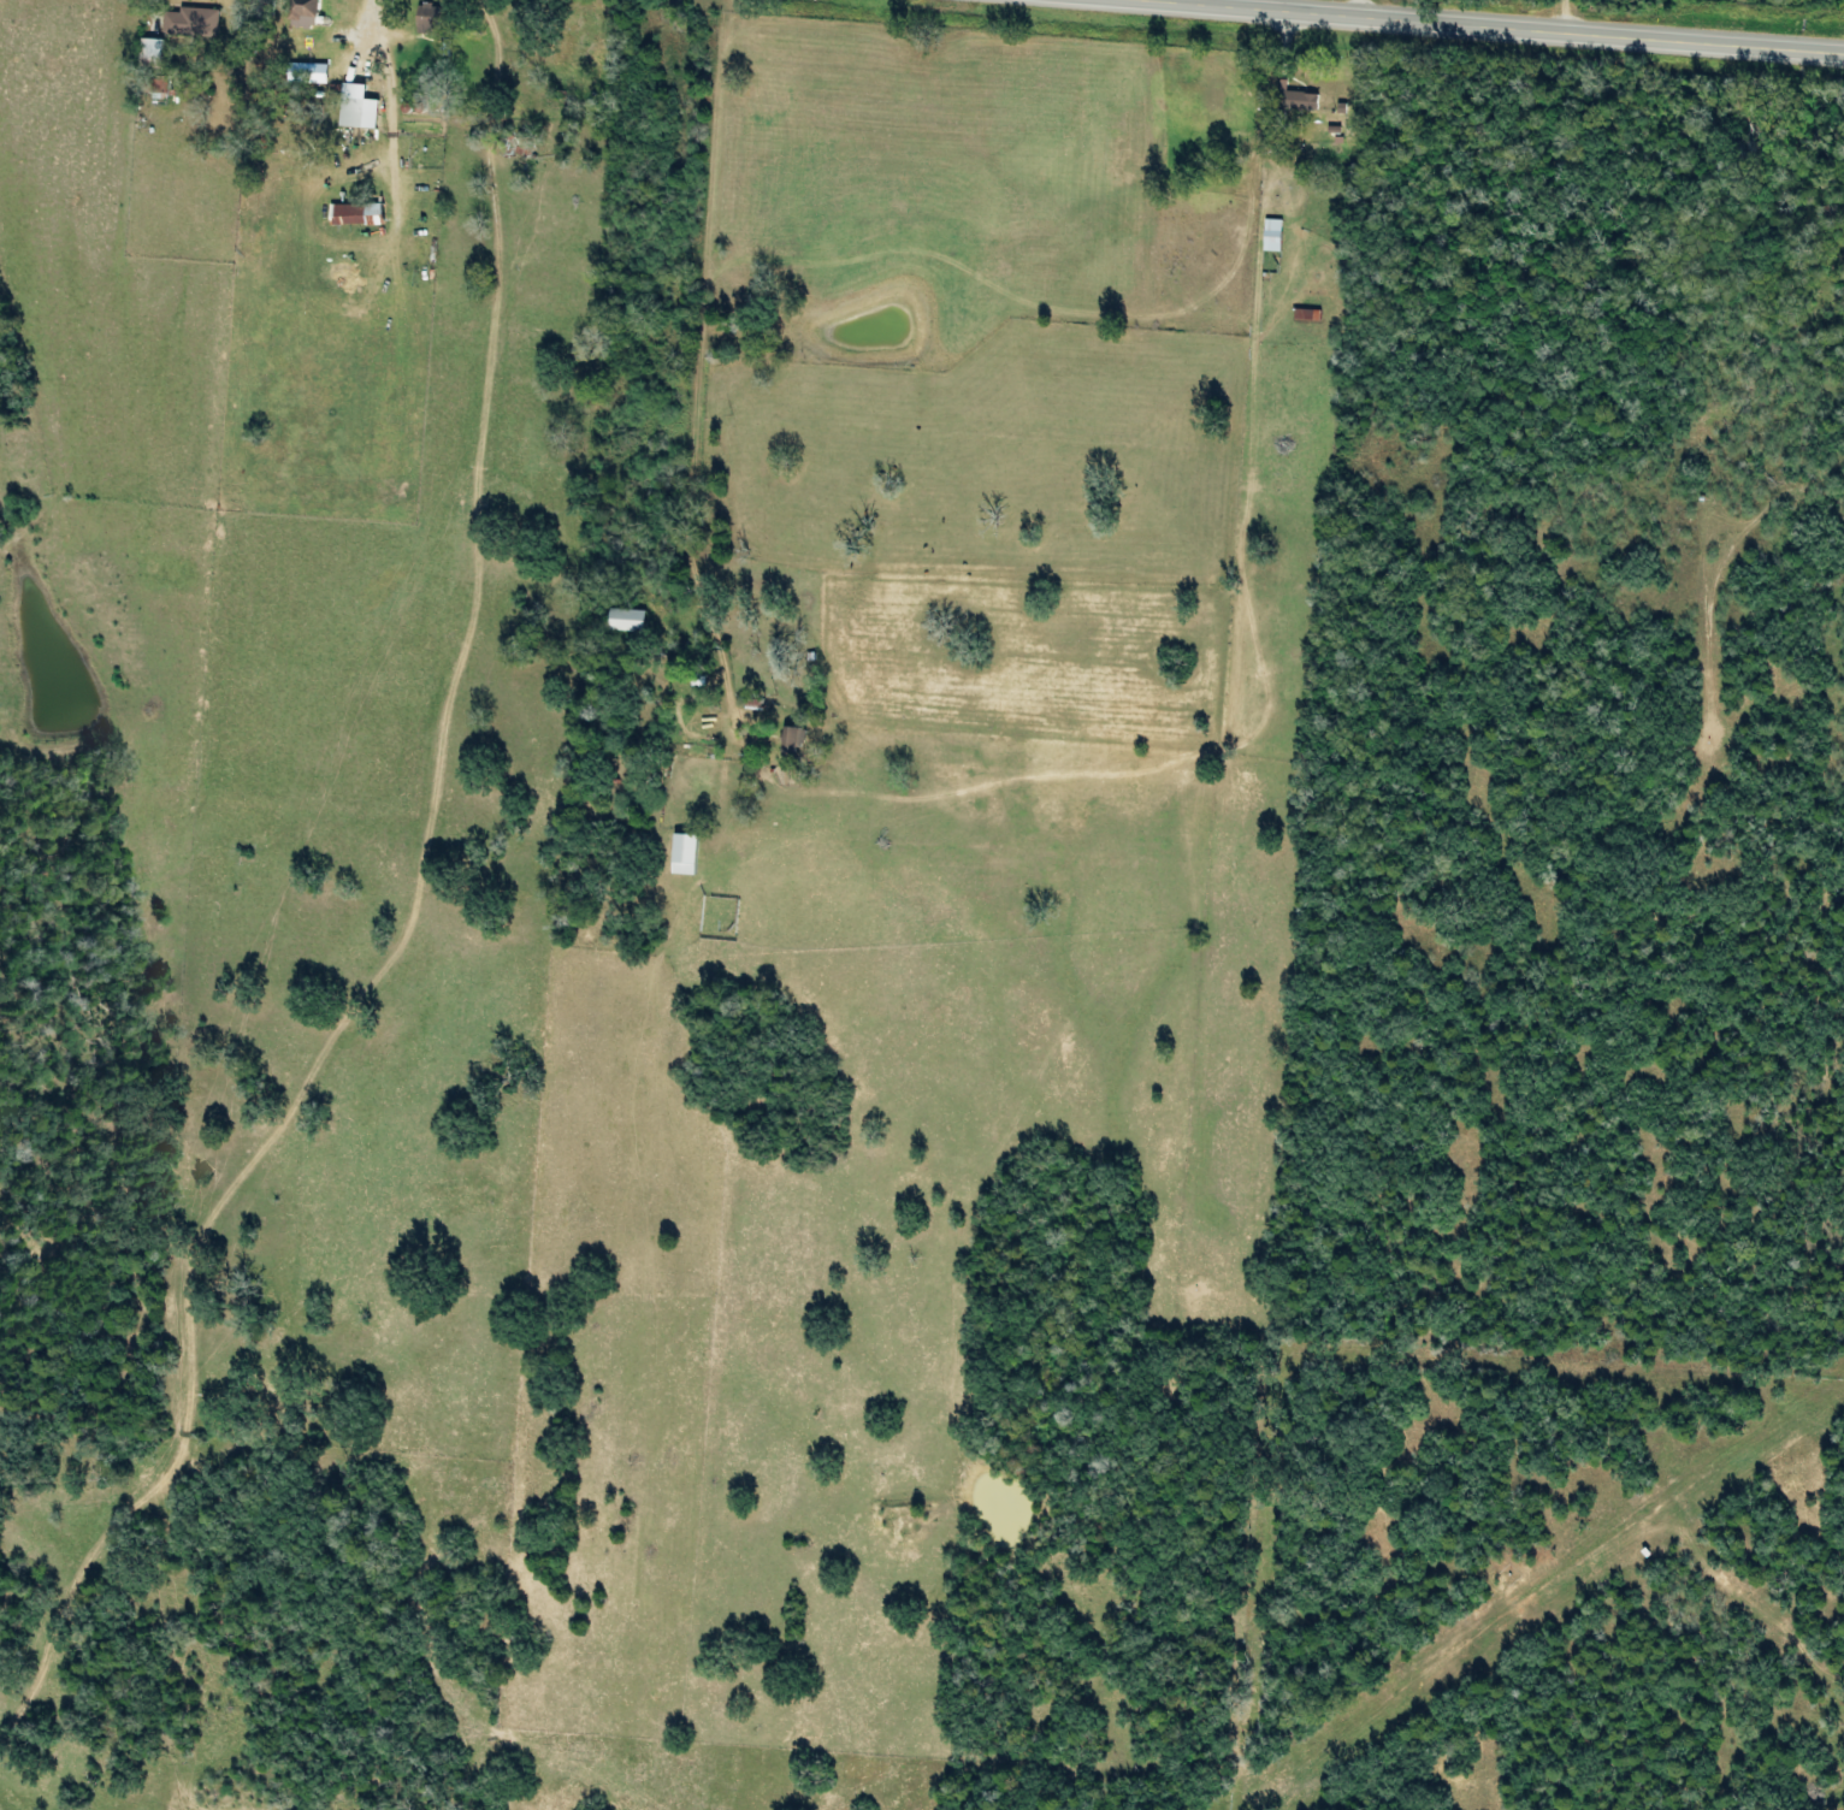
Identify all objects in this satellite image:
building: (307, 12)
building: (431, 17)
building: (193, 20)
road: (1459, 25)
building: (155, 52)
building: (1290, 99)
building: (360, 106)
building: (357, 213)
building: (1269, 233)
road: (481, 248)
building: (1304, 313)
road: (693, 371)
building: (630, 619)
building: (793, 739)
building: (688, 852)

